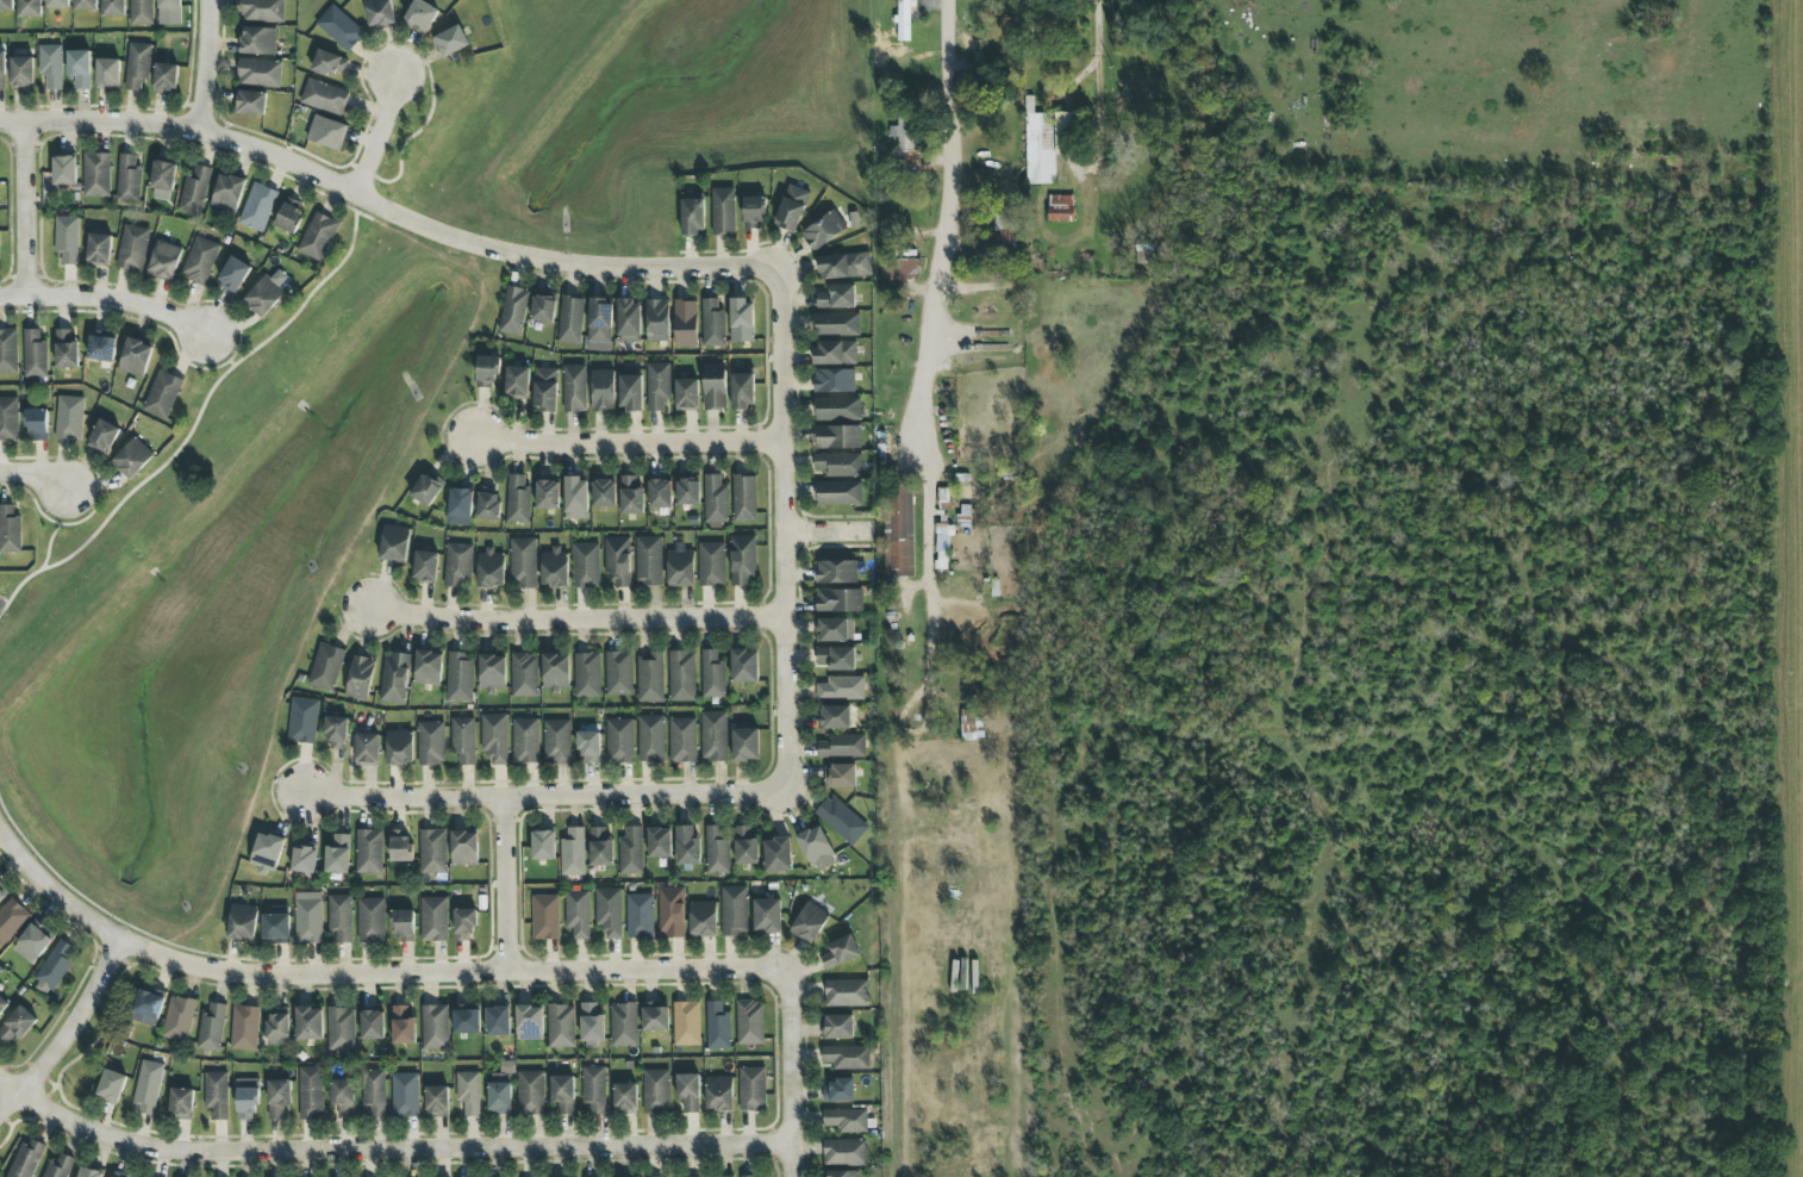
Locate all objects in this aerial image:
building: (57, 4)
building: (169, 4)
building: (6, 5)
building: (86, 5)
building: (113, 7)
building: (30, 8)
building: (262, 11)
building: (142, 12)
building: (380, 13)
building: (420, 17)
building: (904, 19)
building: (339, 29)
building: (257, 41)
building: (450, 42)
road: (1105, 54)
road: (202, 64)
building: (330, 64)
building: (51, 66)
building: (137, 66)
building: (80, 68)
building: (2, 70)
building: (21, 71)
building: (260, 73)
building: (108, 74)
building: (166, 79)
building: (325, 96)
building: (249, 104)
building: (327, 132)
road: (416, 132)
road: (373, 133)
building: (1044, 142)
building: (907, 143)
road: (1113, 149)
building: (64, 170)
building: (96, 175)
building: (129, 179)
building: (162, 181)
building: (194, 191)
building: (227, 193)
road: (355, 204)
building: (257, 207)
road: (383, 208)
building: (791, 208)
building: (1060, 208)
road: (23, 210)
building: (723, 211)
building: (753, 212)
building: (289, 216)
building: (692, 216)
road: (957, 218)
building: (823, 230)
building: (1002, 231)
building: (318, 236)
building: (67, 238)
building: (132, 248)
building: (99, 249)
building: (164, 261)
building: (199, 261)
building: (910, 264)
building: (843, 266)
building: (233, 275)
building: (263, 295)
building: (836, 297)
road: (106, 299)
road: (218, 305)
building: (543, 306)
building: (513, 311)
building: (570, 319)
building: (656, 319)
building: (628, 320)
building: (741, 320)
building: (685, 323)
building: (711, 323)
building: (599, 324)
building: (836, 324)
building: (101, 345)
building: (65, 349)
building: (8, 351)
building: (835, 353)
building: (33, 354)
building: (135, 356)
building: (487, 372)
building: (516, 381)
building: (834, 381)
building: (657, 386)
building: (713, 386)
building: (574, 388)
building: (742, 388)
building: (544, 390)
building: (601, 391)
building: (630, 393)
building: (162, 394)
building: (686, 394)
building: (837, 409)
building: (8, 418)
building: (69, 418)
road: (196, 418)
building: (36, 424)
building: (104, 436)
building: (837, 437)
road: (624, 444)
building: (132, 457)
building: (838, 465)
road: (35, 473)
building: (426, 488)
building: (687, 490)
building: (604, 491)
building: (837, 492)
building: (659, 493)
building: (547, 494)
building: (630, 496)
building: (575, 498)
building: (743, 498)
building: (517, 499)
building: (715, 499)
road: (31, 502)
building: (487, 503)
building: (460, 505)
road: (64, 525)
building: (10, 530)
road: (780, 530)
building: (898, 534)
road: (823, 535)
building: (394, 543)
building: (942, 544)
building: (617, 560)
building: (742, 560)
building: (648, 561)
building: (522, 562)
building: (711, 563)
building: (458, 565)
building: (585, 565)
building: (424, 566)
building: (679, 566)
building: (554, 567)
building: (491, 568)
building: (836, 572)
building: (838, 600)
road: (574, 621)
building: (834, 630)
building: (836, 658)
building: (743, 666)
building: (326, 667)
building: (428, 667)
building: (555, 672)
building: (492, 673)
building: (618, 673)
building: (586, 674)
building: (711, 674)
building: (524, 675)
building: (681, 675)
building: (458, 677)
building: (649, 677)
building: (360, 678)
building: (394, 678)
building: (841, 689)
building: (834, 717)
building: (302, 721)
building: (336, 731)
building: (713, 736)
building: (494, 737)
building: (650, 739)
building: (463, 740)
building: (681, 740)
building: (525, 741)
building: (556, 741)
building: (619, 741)
building: (430, 742)
building: (744, 745)
building: (842, 746)
building: (399, 747)
building: (589, 747)
building: (367, 748)
building: (840, 776)
road: (543, 797)
building: (841, 820)
building: (659, 842)
building: (543, 845)
building: (744, 845)
building: (400, 846)
building: (686, 846)
building: (599, 847)
building: (463, 848)
building: (816, 848)
building: (368, 851)
building: (432, 851)
building: (630, 851)
building: (715, 851)
building: (267, 852)
building: (573, 853)
building: (337, 854)
building: (776, 854)
building: (304, 858)
road: (503, 885)
building: (2, 891)
building: (734, 910)
building: (578, 911)
building: (609, 911)
building: (670, 911)
building: (640, 915)
building: (544, 916)
building: (767, 916)
building: (307, 917)
building: (339, 917)
building: (433, 918)
building: (701, 918)
building: (11, 920)
building: (370, 920)
building: (242, 922)
building: (809, 923)
building: (463, 924)
building: (403, 926)
building: (276, 929)
building: (31, 944)
building: (840, 952)
building: (52, 967)
road: (369, 974)
building: (846, 992)
building: (2, 1004)
building: (146, 1008)
building: (654, 1016)
building: (179, 1019)
building: (467, 1021)
building: (498, 1021)
building: (529, 1022)
building: (749, 1022)
building: (308, 1023)
building: (591, 1023)
building: (686, 1023)
building: (17, 1025)
building: (372, 1025)
building: (623, 1025)
building: (403, 1026)
building: (561, 1026)
building: (836, 1026)
building: (435, 1027)
building: (717, 1027)
road: (65, 1028)
building: (211, 1028)
building: (244, 1028)
building: (341, 1028)
building: (277, 1029)
building: (846, 1057)
road: (787, 1075)
building: (111, 1086)
building: (148, 1088)
building: (500, 1089)
building: (593, 1089)
building: (751, 1089)
building: (655, 1091)
building: (837, 1091)
building: (308, 1092)
building: (373, 1092)
building: (468, 1092)
building: (530, 1092)
building: (687, 1092)
building: (216, 1094)
building: (562, 1094)
building: (718, 1094)
building: (405, 1095)
building: (277, 1097)
building: (342, 1097)
building: (247, 1098)
building: (624, 1098)
building: (181, 1101)
building: (436, 1101)
building: (847, 1120)
road: (383, 1151)
building: (844, 1152)
building: (26, 1158)
building: (58, 1166)
building: (88, 1172)
building: (842, 1173)
building: (748, 1176)

